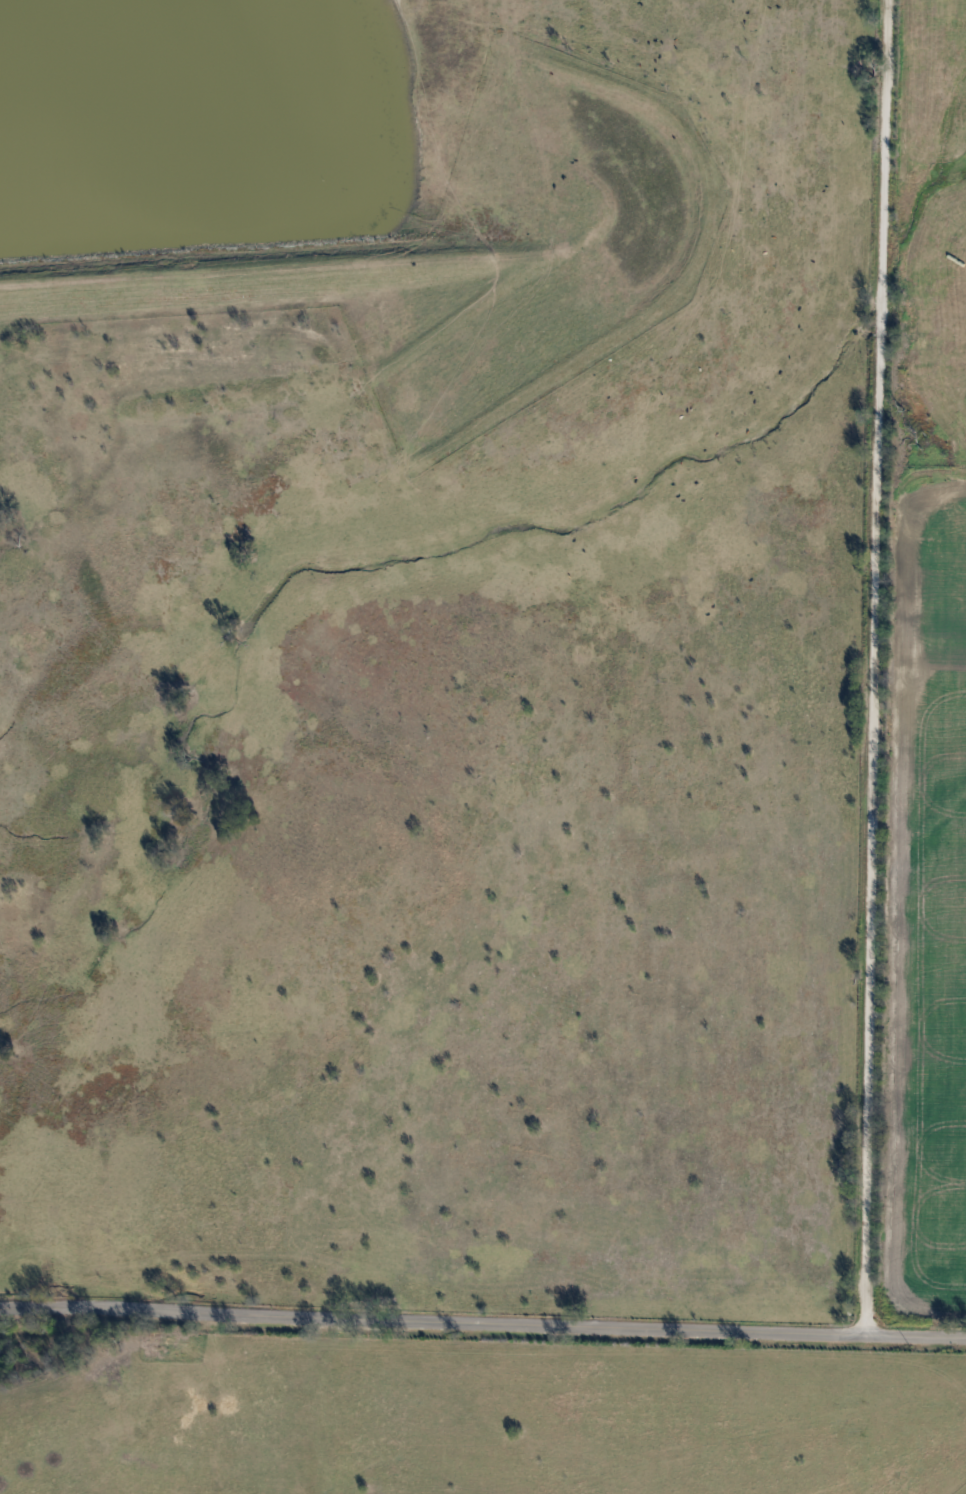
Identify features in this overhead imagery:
road: (876, 667)
road: (433, 1320)
road: (916, 1336)

